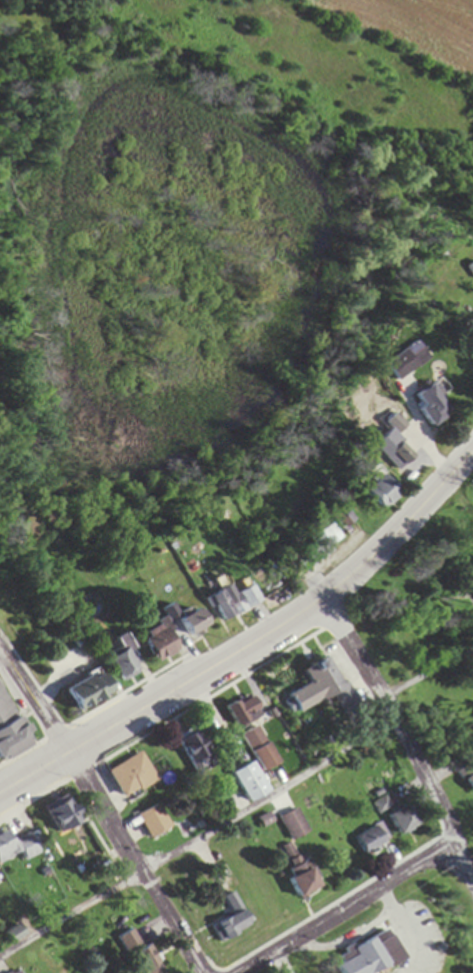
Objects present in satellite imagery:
building: (471, 327)
building: (400, 360)
building: (424, 405)
building: (391, 454)
building: (374, 492)
building: (305, 556)
building: (469, 589)
building: (228, 600)
road: (285, 619)
building: (149, 634)
building: (120, 661)
building: (309, 686)
building: (83, 692)
road: (33, 701)
building: (236, 710)
building: (9, 730)
road: (401, 736)
building: (254, 750)
building: (189, 753)
road: (33, 772)
building: (125, 776)
building: (243, 783)
building: (57, 814)
building: (402, 820)
building: (149, 821)
building: (287, 825)
building: (365, 841)
building: (17, 848)
road: (198, 850)
building: (287, 860)
road: (132, 861)
building: (294, 880)
road: (346, 908)
building: (226, 920)
building: (11, 935)
building: (135, 952)
building: (362, 957)
building: (10, 971)

